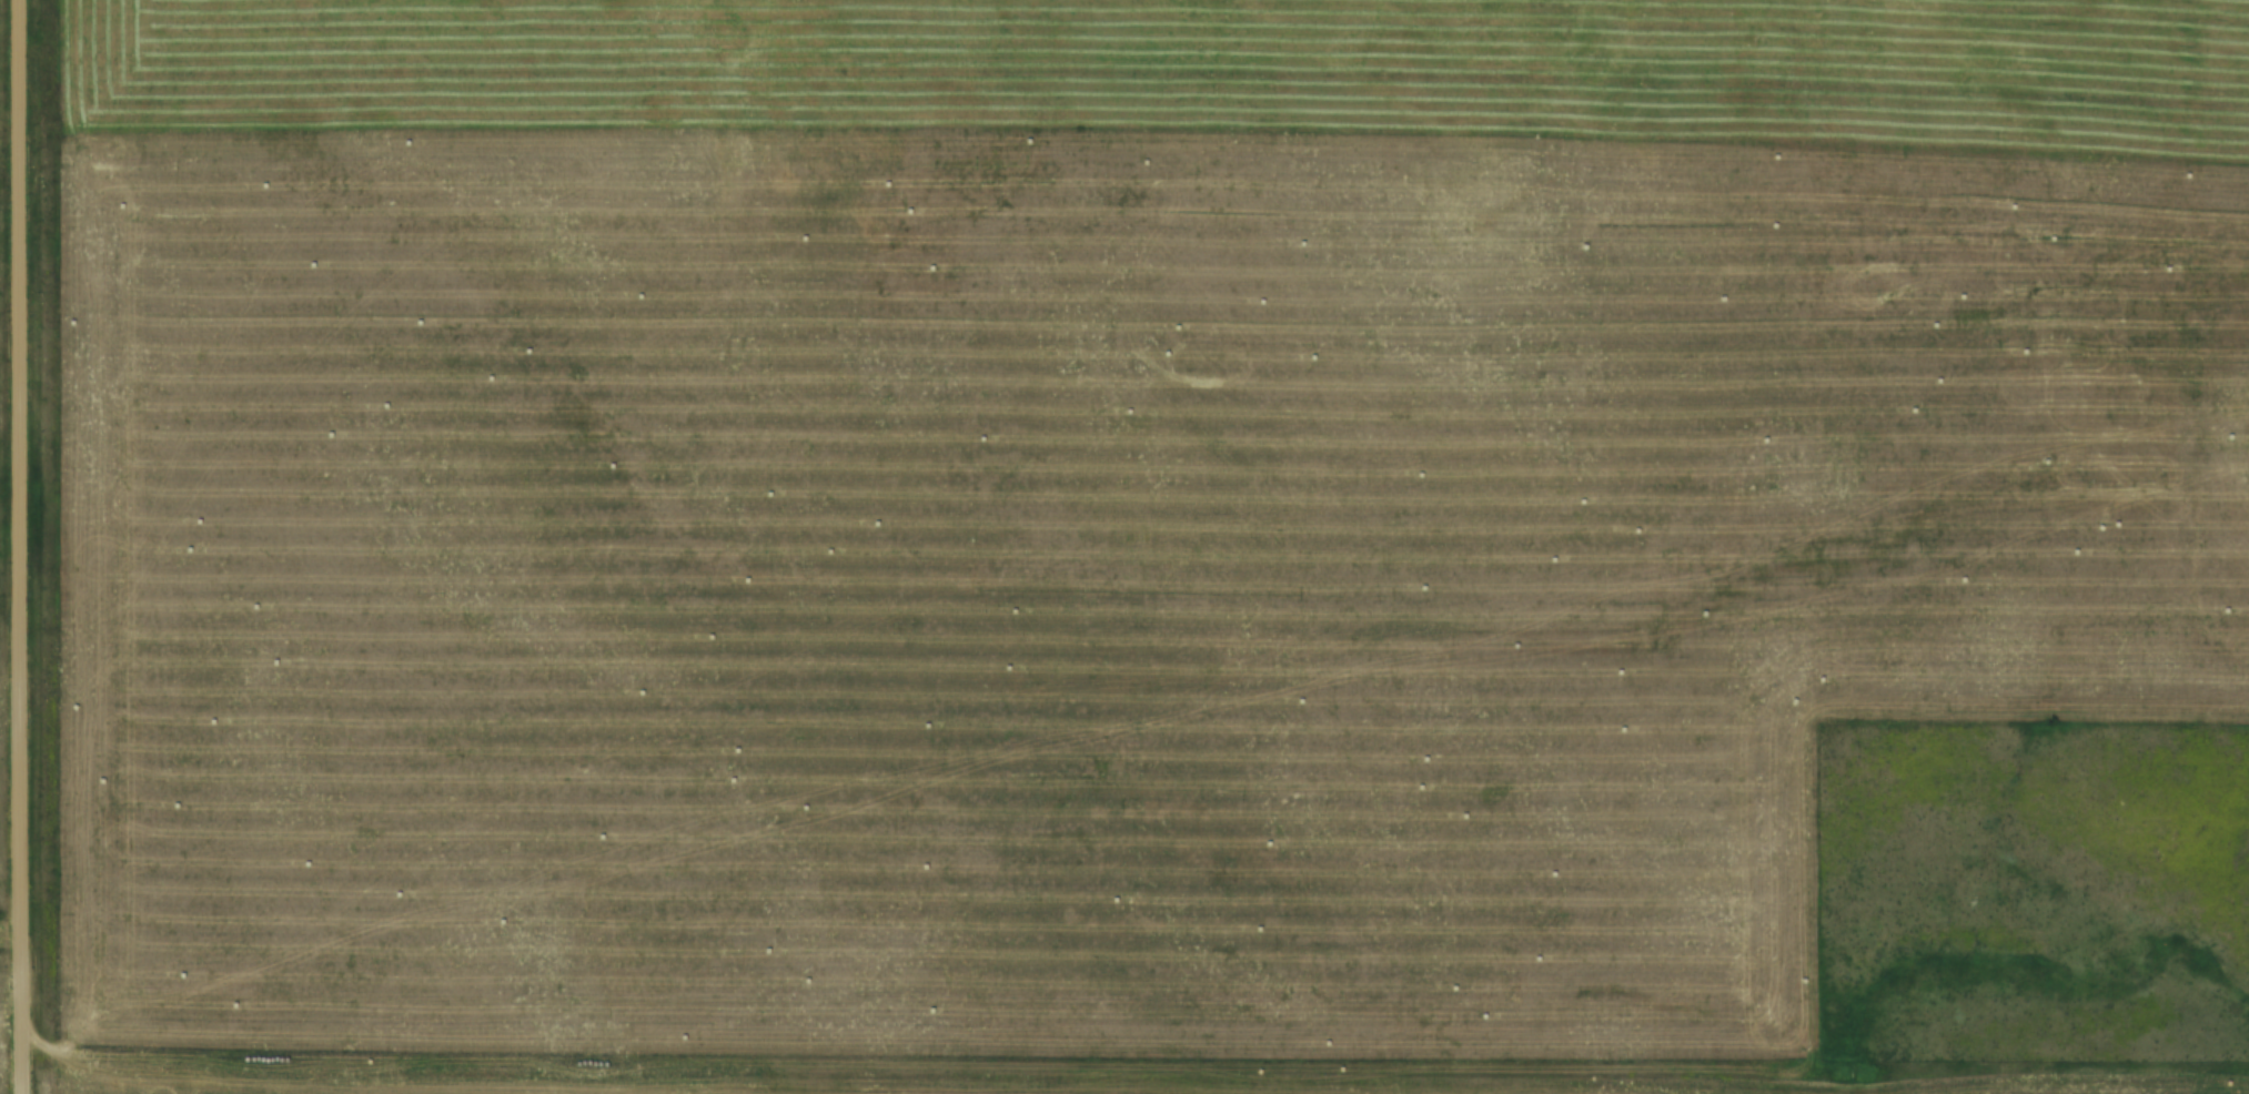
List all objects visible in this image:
building: (305, 397)
road: (26, 546)
road: (13, 938)
road: (901, 1066)
road: (2108, 1087)

